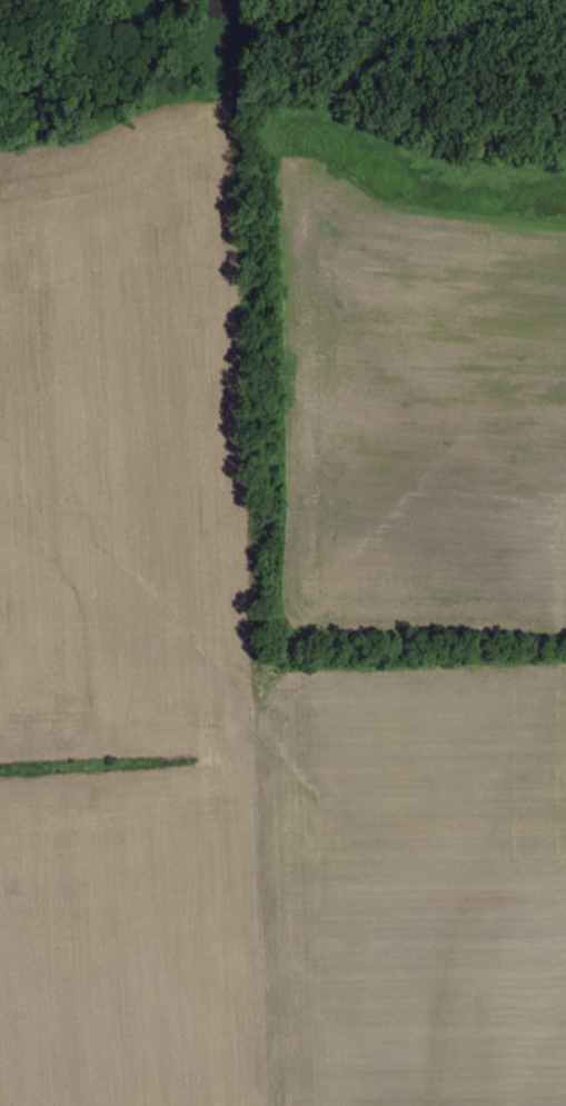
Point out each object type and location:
crop: (418, 411)
crop: (227, 718)

